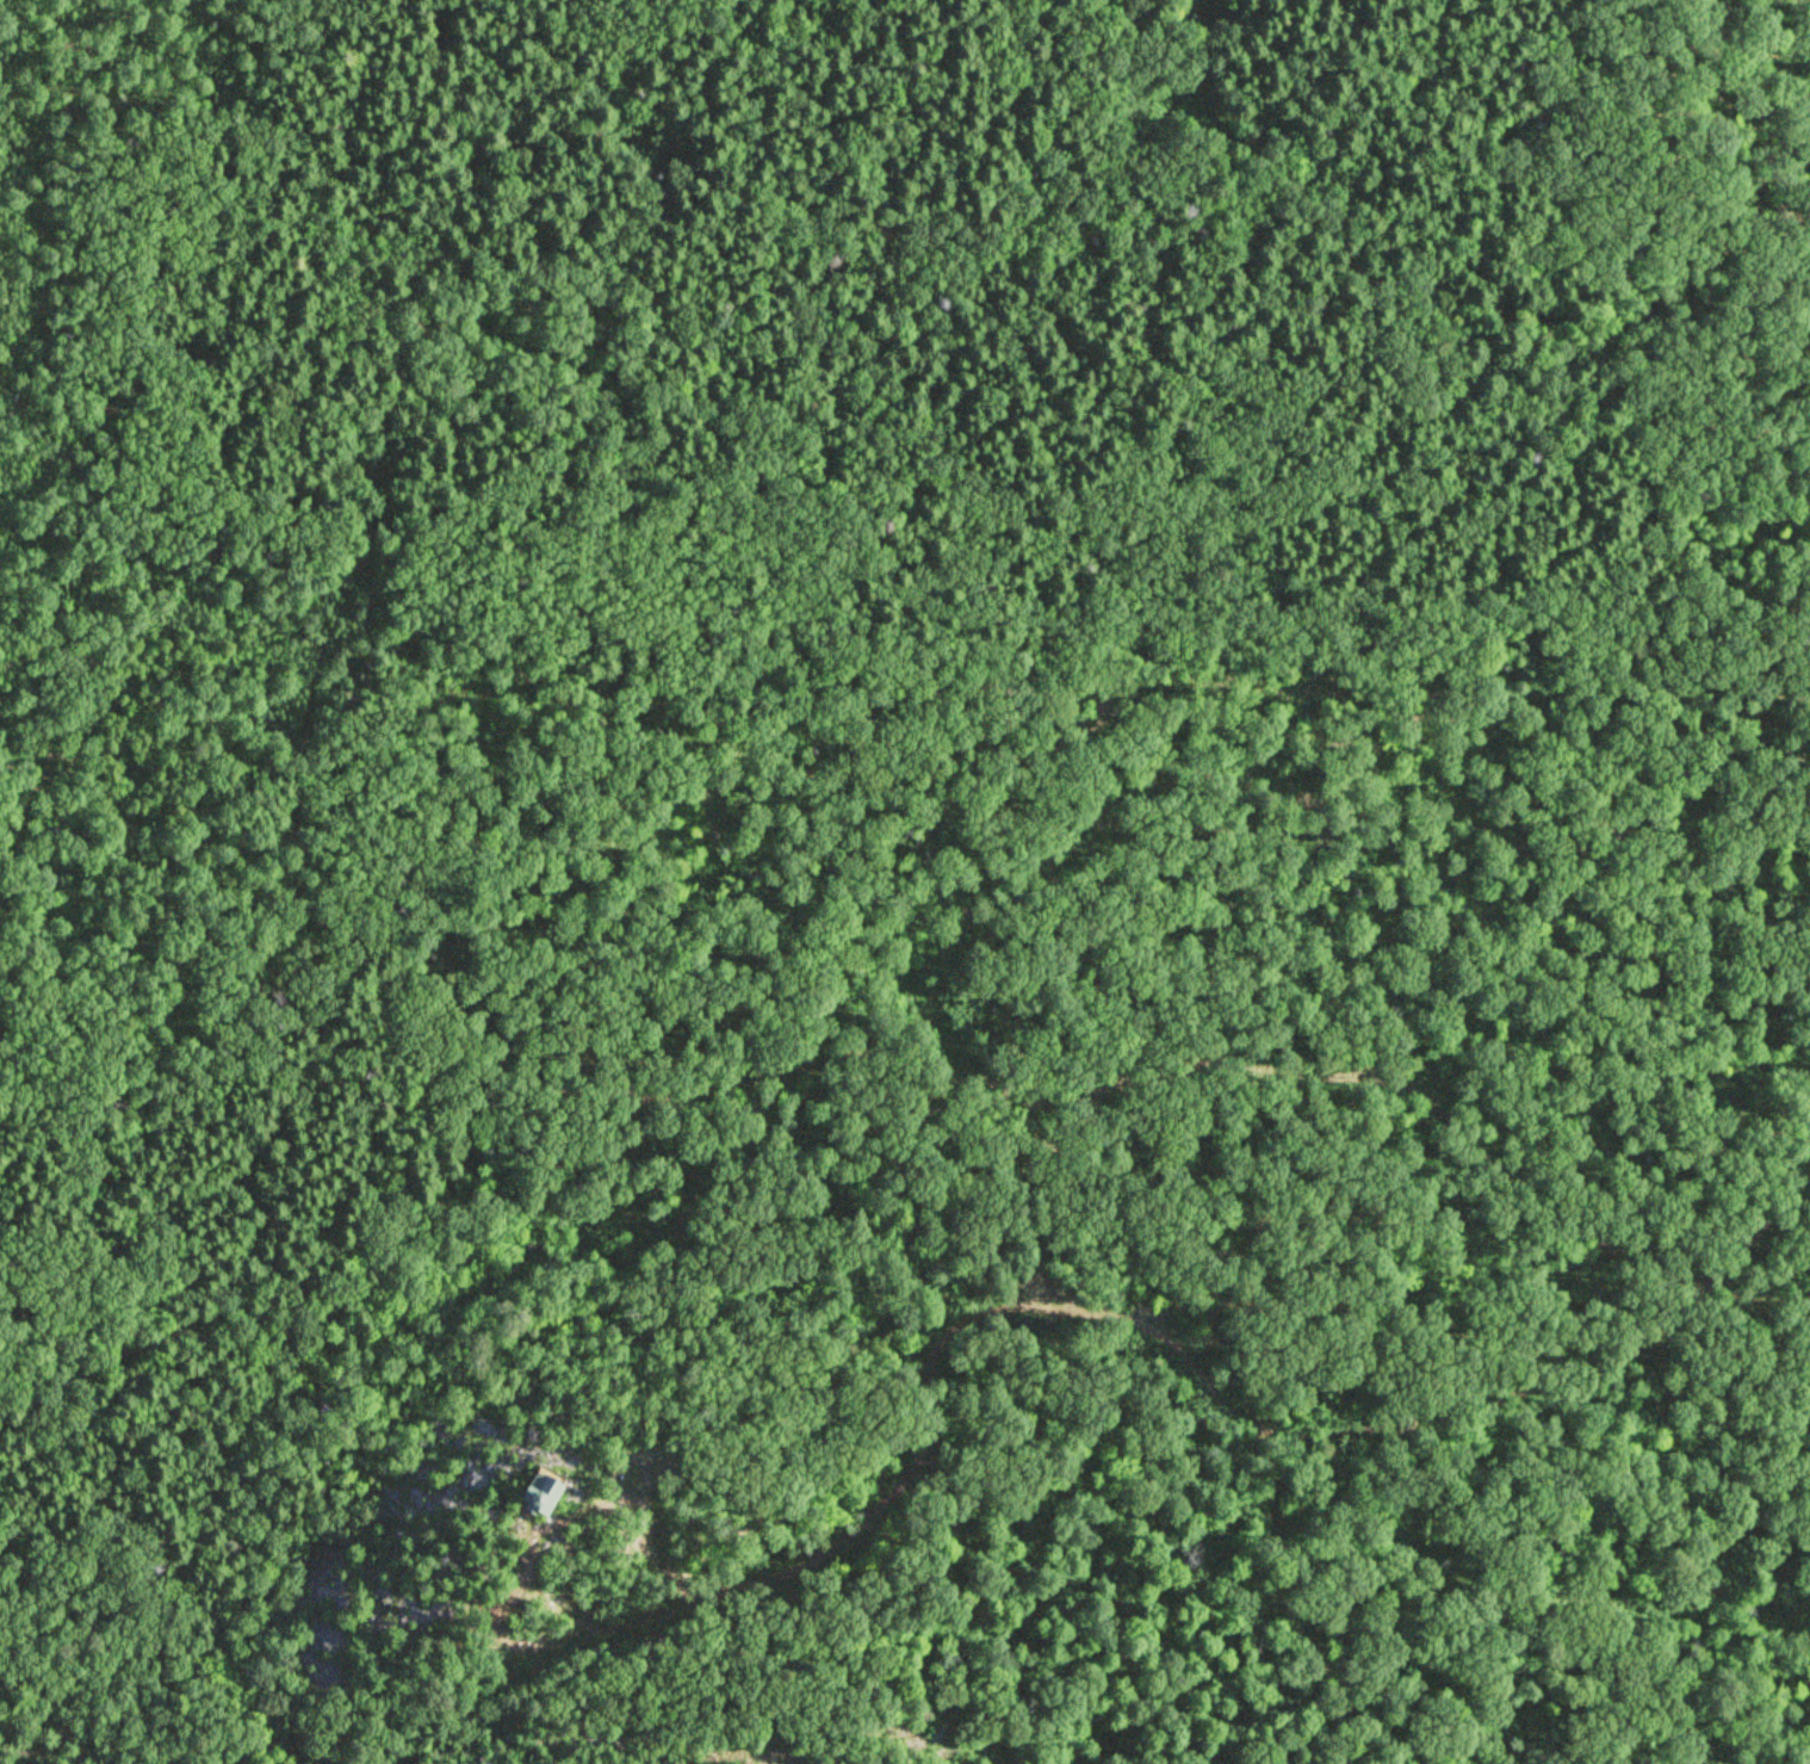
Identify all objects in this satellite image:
building: (534, 1491)

